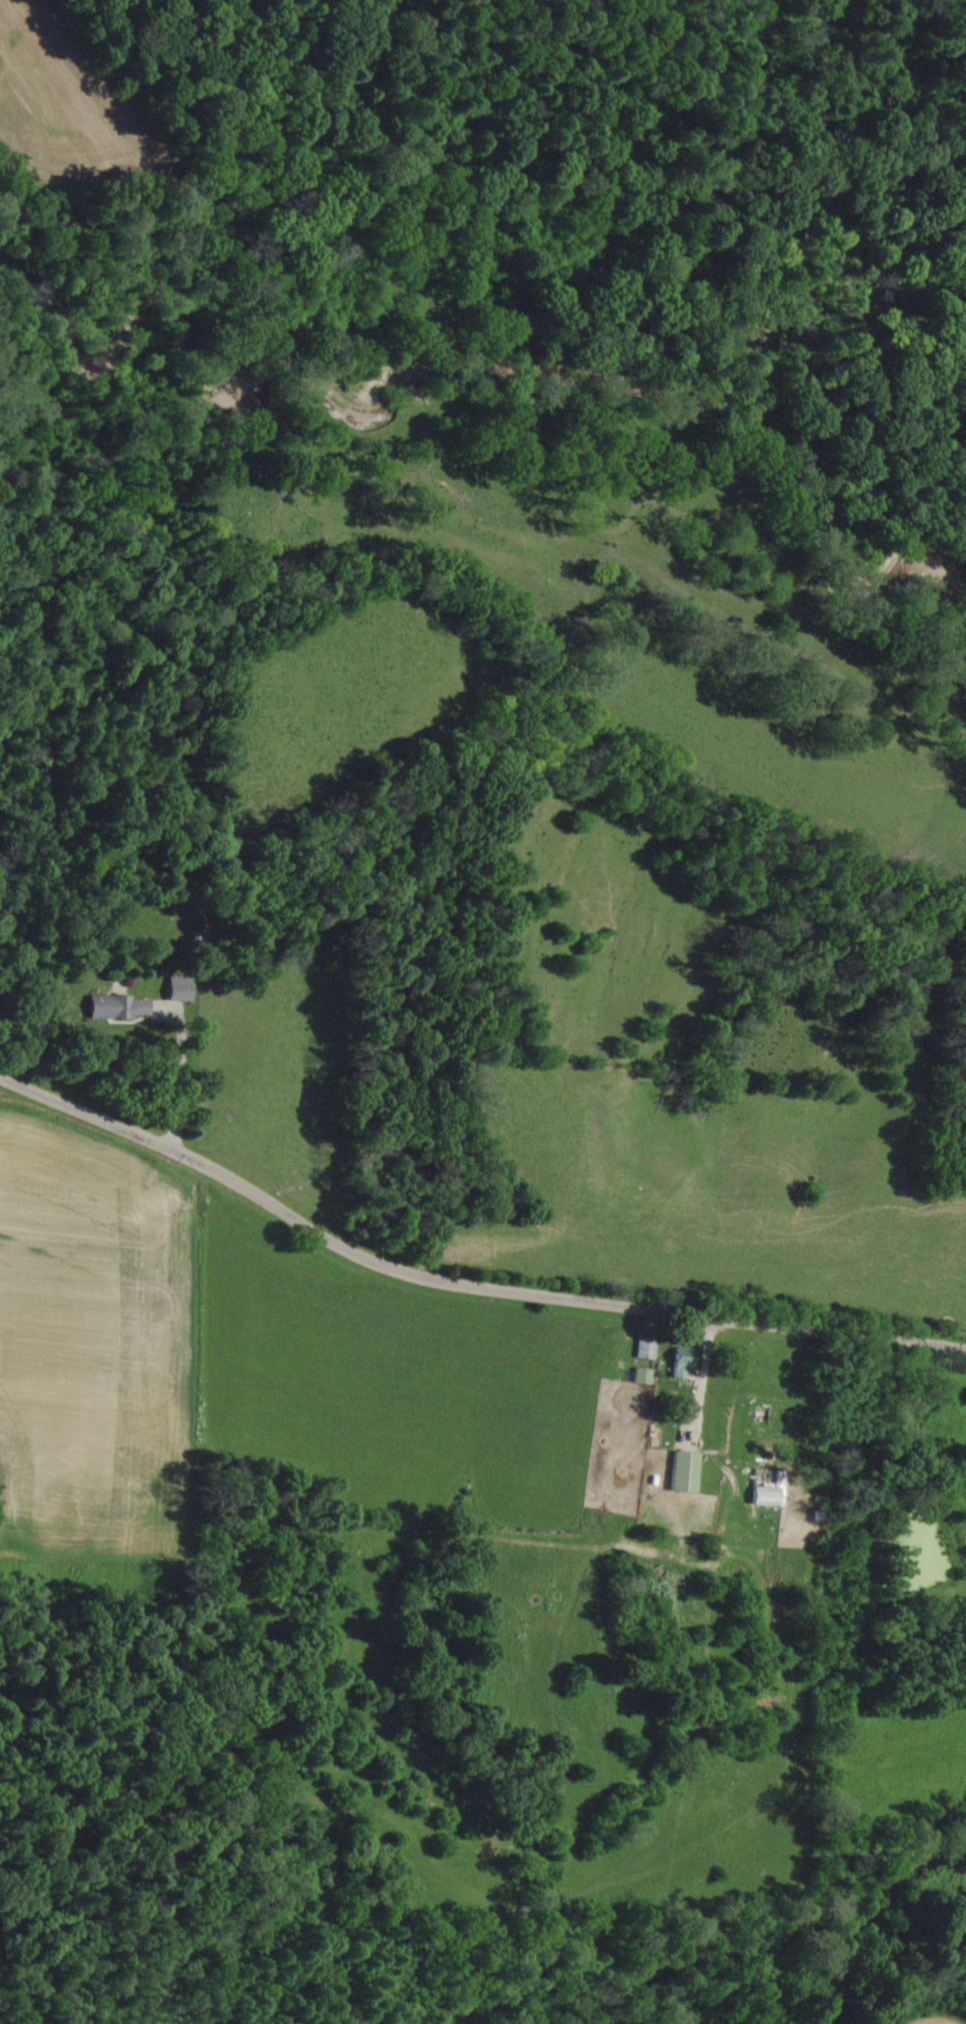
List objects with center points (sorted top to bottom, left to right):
building: (181, 988)
building: (119, 1008)
road: (461, 1284)
building: (647, 1349)
building: (685, 1367)
building: (644, 1376)
building: (686, 1472)
building: (771, 1492)

